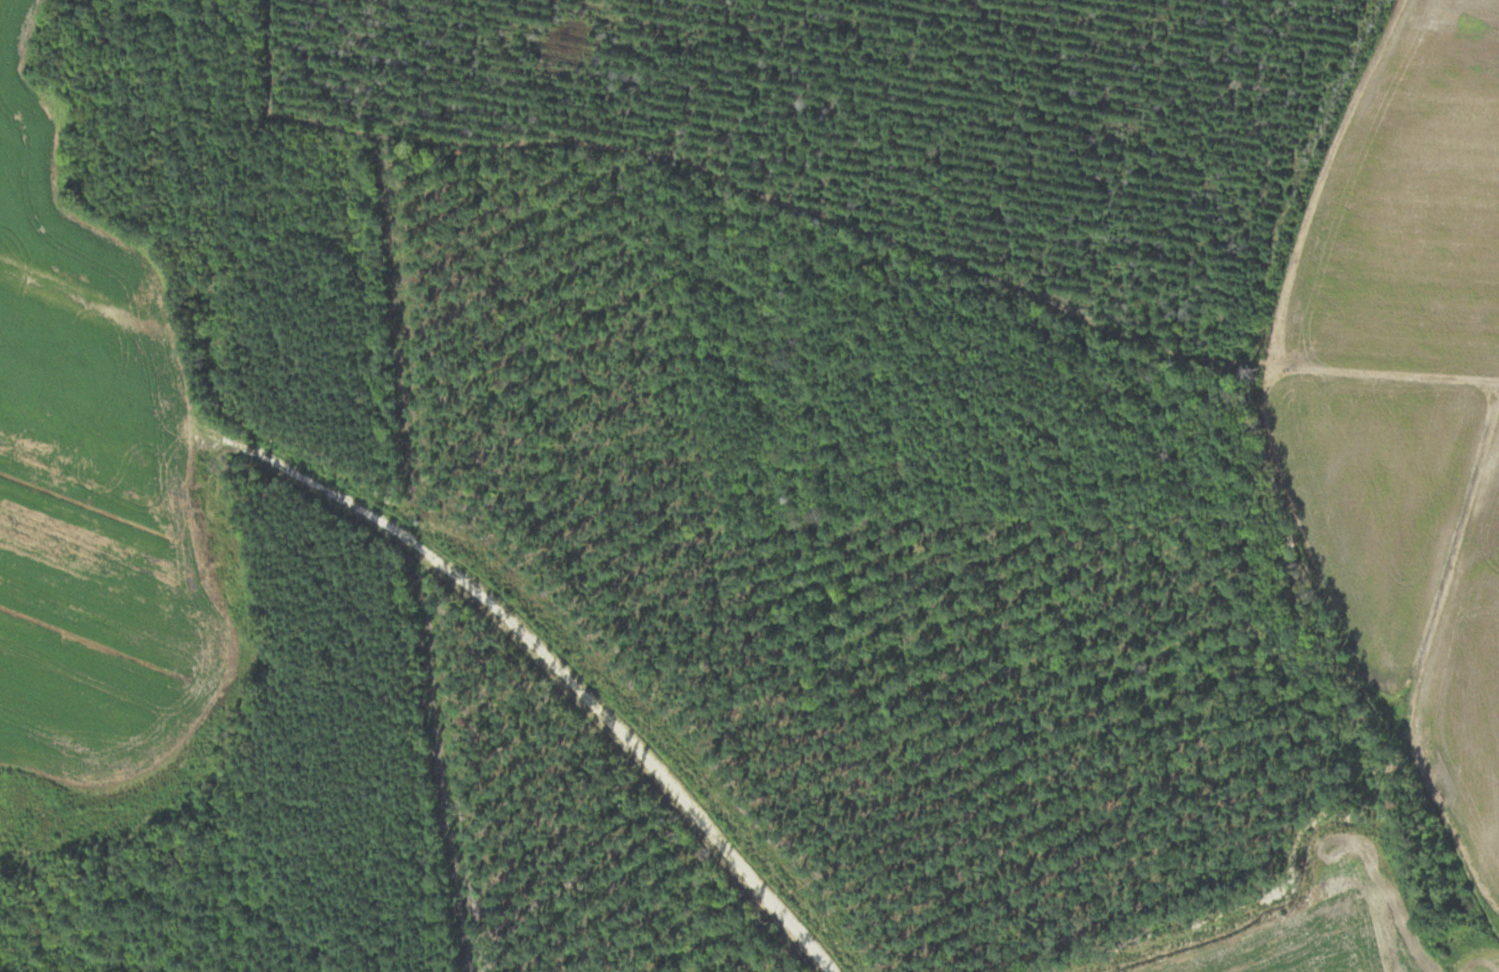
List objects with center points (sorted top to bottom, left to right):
road: (444, 583)

